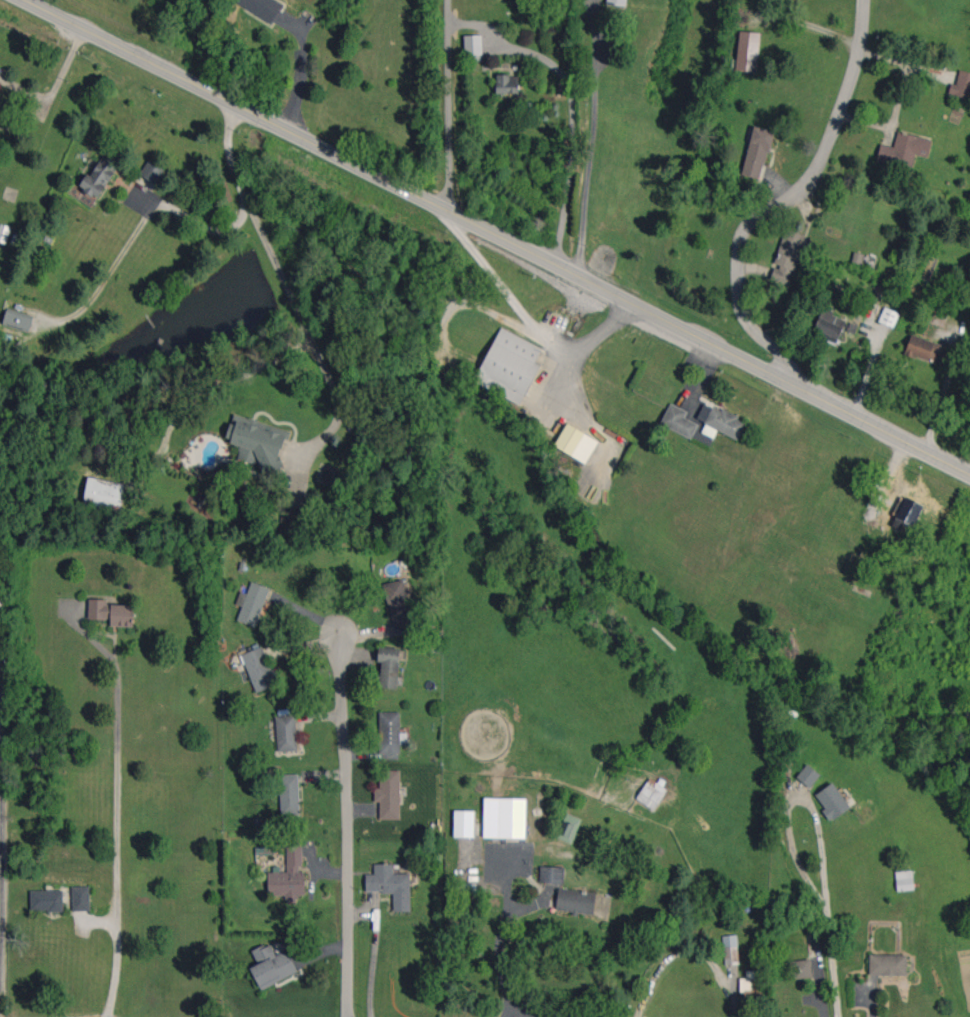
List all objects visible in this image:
building: (617, 2)
building: (261, 7)
building: (473, 47)
building: (747, 51)
road: (300, 71)
building: (507, 83)
building: (961, 85)
road: (572, 101)
road: (445, 106)
road: (588, 141)
building: (904, 149)
building: (757, 152)
building: (152, 171)
building: (99, 176)
road: (781, 200)
road: (202, 224)
building: (4, 232)
road: (496, 235)
building: (787, 256)
road: (109, 271)
road: (288, 285)
road: (527, 316)
building: (889, 317)
building: (937, 317)
building: (18, 320)
building: (829, 326)
building: (923, 348)
building: (509, 366)
road: (943, 395)
building: (721, 420)
building: (678, 421)
building: (257, 442)
building: (576, 443)
building: (104, 493)
building: (907, 513)
building: (290, 517)
building: (0, 584)
building: (252, 603)
building: (398, 603)
building: (111, 612)
building: (0, 645)
building: (389, 666)
building: (259, 669)
building: (286, 732)
building: (389, 732)
building: (808, 775)
building: (289, 794)
building: (388, 794)
building: (651, 794)
road: (795, 797)
building: (832, 801)
road: (117, 806)
building: (504, 817)
road: (1, 819)
road: (347, 821)
building: (464, 823)
building: (569, 828)
building: (552, 874)
building: (289, 876)
building: (904, 880)
building: (390, 885)
building: (80, 898)
building: (46, 900)
building: (576, 901)
road: (495, 943)
building: (730, 949)
building: (888, 964)
building: (271, 965)
road: (833, 966)
building: (801, 968)
building: (751, 980)

